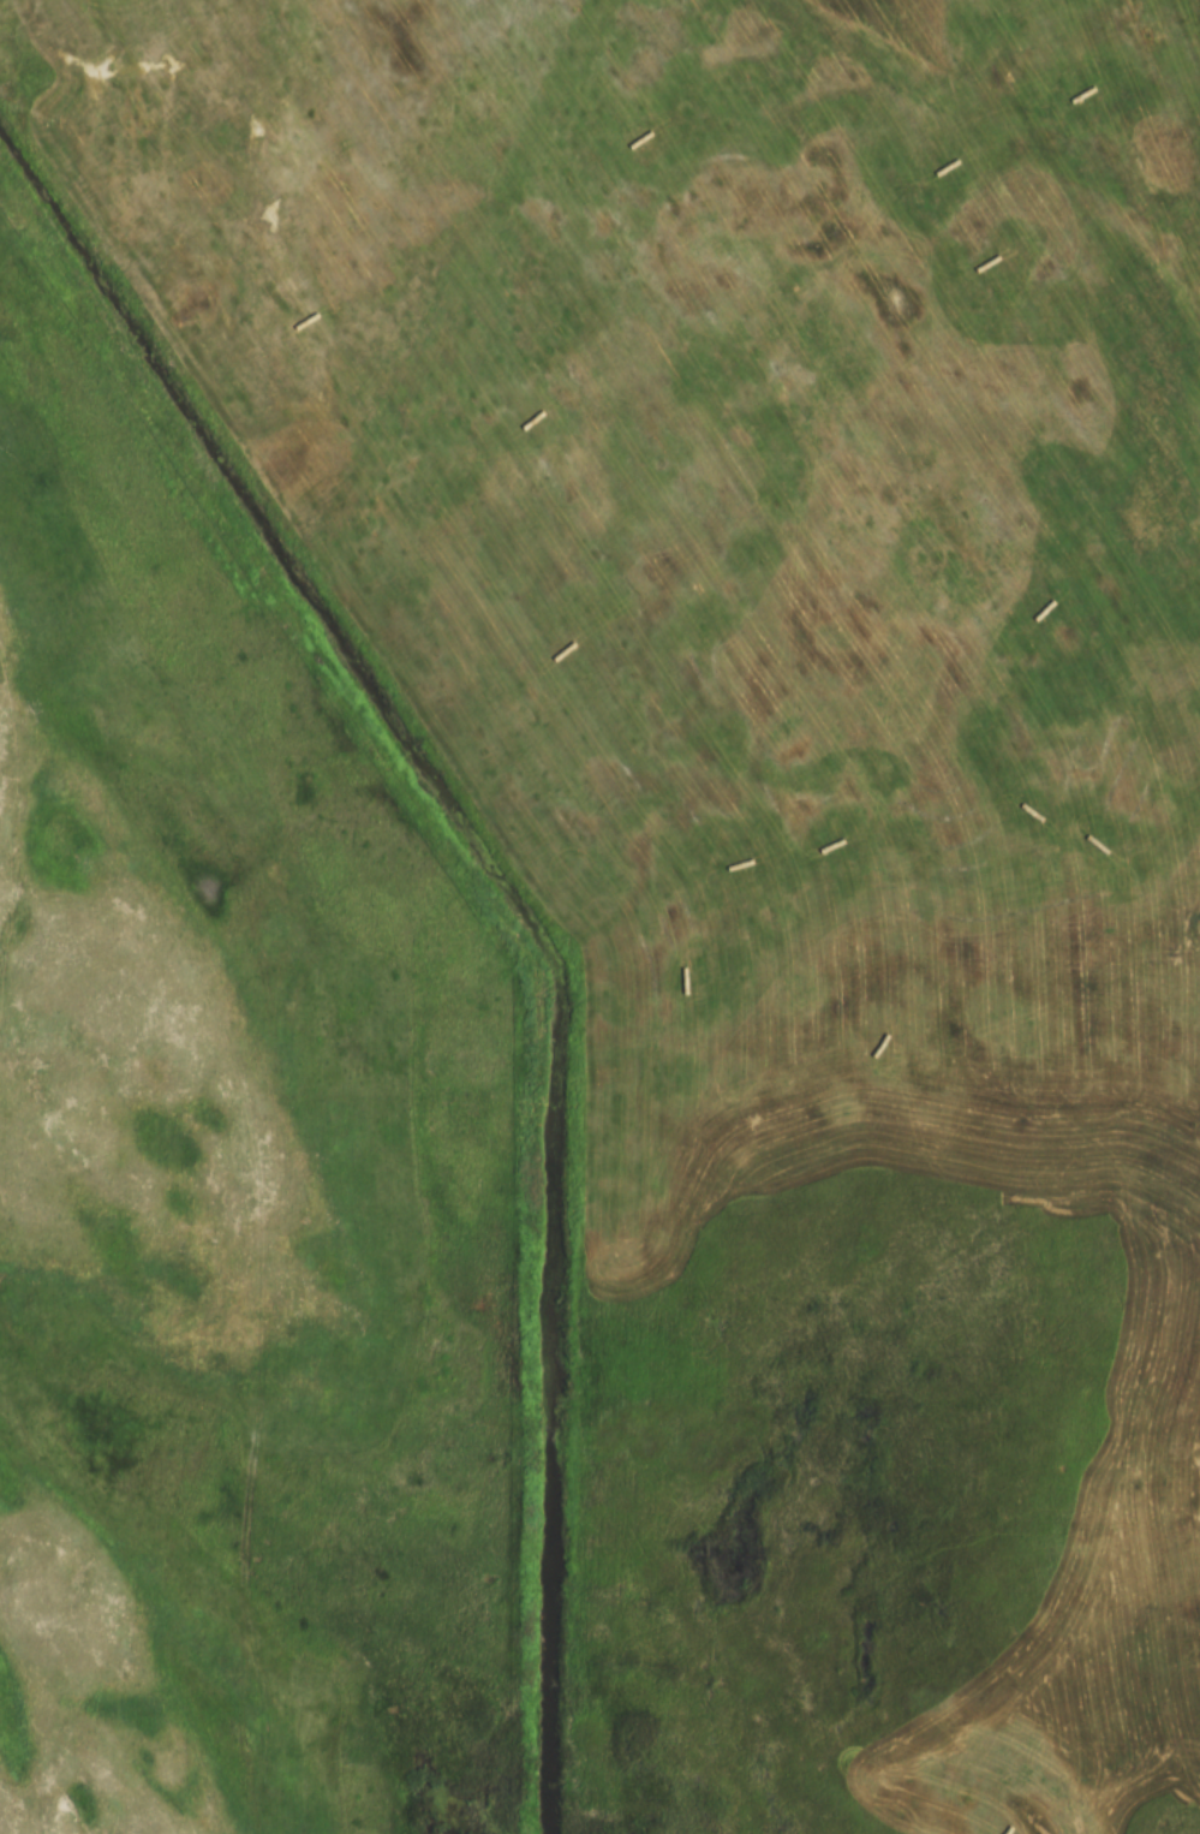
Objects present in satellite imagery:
airport runway: (1085, 917)

